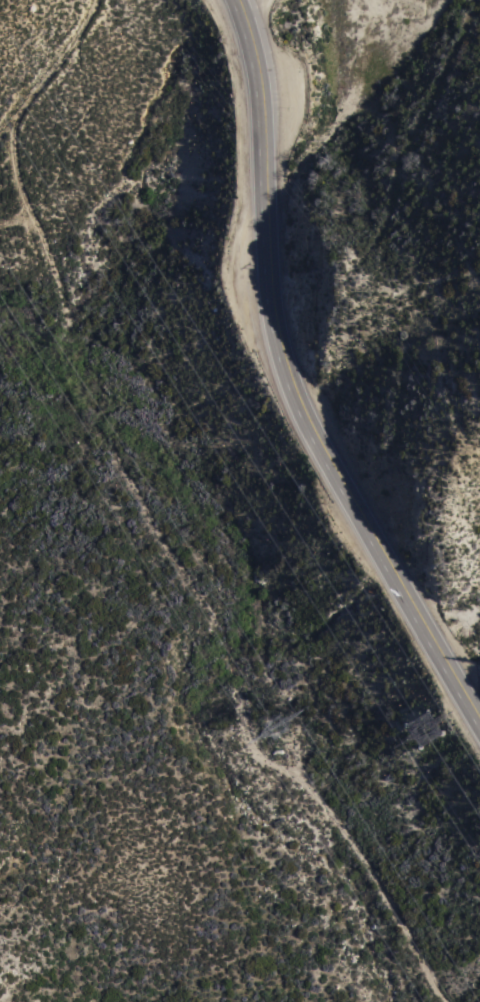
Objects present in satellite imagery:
road: (289, 384)
power tower: (431, 727)
power tower: (283, 729)

